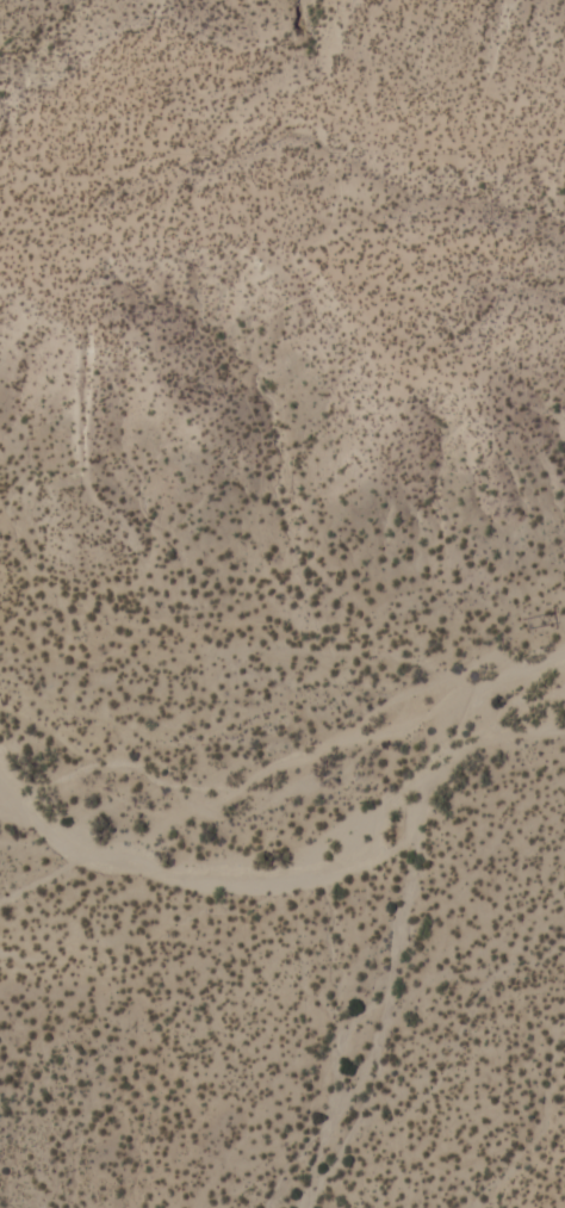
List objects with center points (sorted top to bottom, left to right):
power tower: (523, 628)

